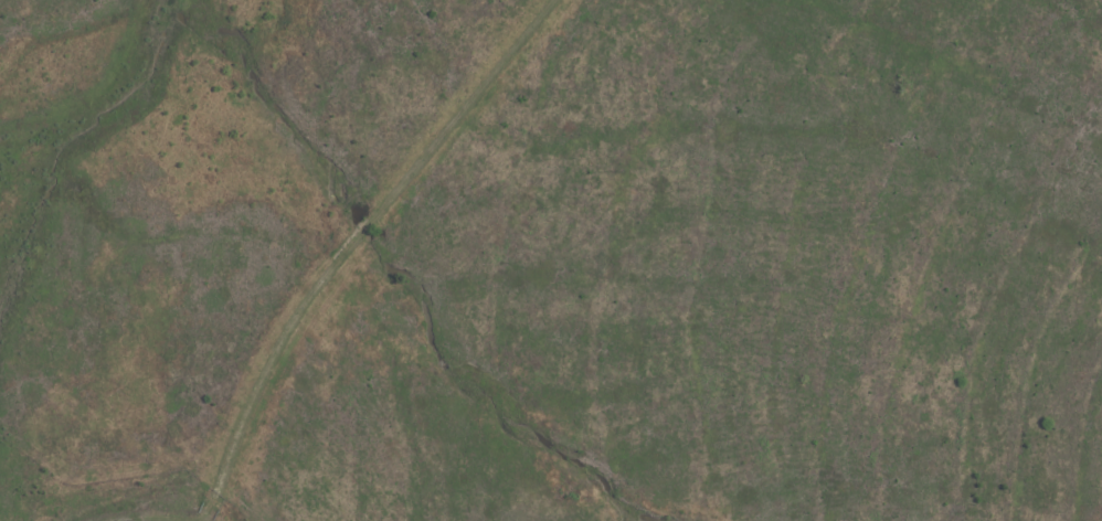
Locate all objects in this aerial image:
road: (162, 514)

